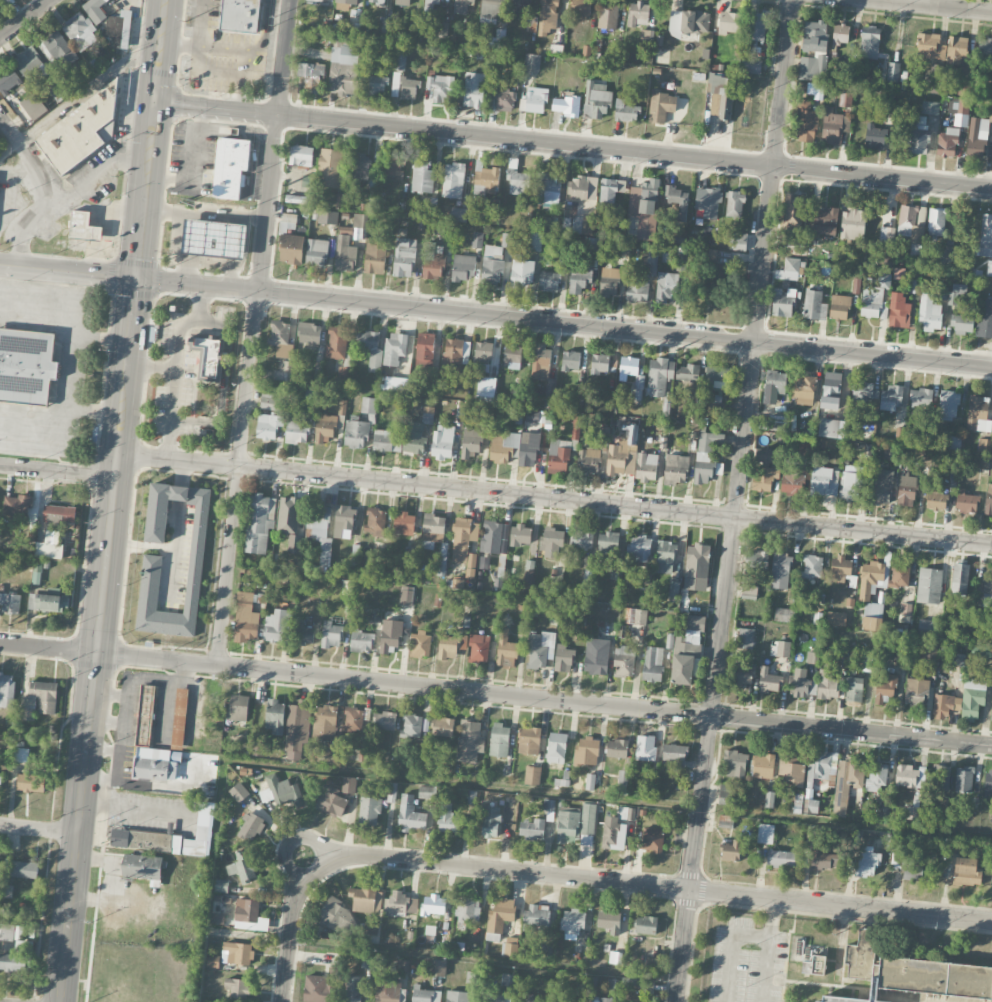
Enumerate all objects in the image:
building: (316, 0)
building: (347, 2)
building: (377, 2)
building: (402, 3)
building: (431, 5)
road: (935, 5)
building: (462, 6)
building: (520, 6)
building: (580, 7)
building: (95, 10)
building: (490, 10)
building: (638, 13)
building: (608, 14)
building: (241, 15)
building: (547, 17)
road: (24, 18)
building: (355, 21)
building: (688, 21)
building: (730, 22)
building: (531, 23)
building: (757, 25)
building: (119, 30)
building: (80, 31)
building: (841, 33)
building: (647, 35)
building: (815, 36)
building: (496, 40)
building: (870, 42)
building: (930, 46)
building: (985, 47)
building: (60, 49)
building: (956, 49)
building: (401, 60)
building: (532, 61)
building: (813, 65)
building: (751, 66)
building: (344, 70)
building: (311, 71)
building: (39, 73)
building: (893, 74)
building: (934, 79)
building: (8, 80)
building: (396, 82)
building: (377, 85)
building: (409, 88)
building: (440, 88)
building: (475, 89)
building: (816, 89)
building: (721, 98)
building: (504, 99)
building: (596, 99)
building: (534, 100)
traffic signals: (154, 103)
building: (565, 105)
building: (33, 106)
building: (661, 106)
building: (930, 107)
road: (62, 110)
building: (959, 110)
building: (626, 111)
building: (990, 112)
building: (806, 122)
building: (834, 126)
building: (81, 130)
building: (875, 136)
building: (976, 138)
road: (150, 139)
building: (919, 140)
building: (947, 142)
road: (572, 147)
building: (301, 156)
building: (361, 166)
building: (391, 166)
road: (195, 168)
building: (231, 168)
building: (330, 168)
road: (102, 172)
building: (422, 176)
building: (453, 180)
building: (486, 181)
building: (519, 183)
building: (549, 187)
building: (581, 188)
road: (55, 190)
building: (609, 193)
building: (645, 197)
building: (708, 201)
building: (678, 202)
building: (734, 204)
building: (794, 211)
road: (206, 213)
building: (459, 213)
building: (328, 217)
building: (825, 220)
building: (937, 220)
building: (360, 221)
building: (633, 222)
building: (853, 224)
building: (583, 225)
building: (912, 226)
building: (83, 227)
building: (887, 234)
road: (175, 239)
building: (215, 239)
building: (477, 239)
building: (506, 239)
building: (534, 240)
building: (737, 241)
building: (986, 242)
building: (592, 245)
building: (291, 249)
building: (317, 253)
building: (345, 254)
building: (948, 255)
building: (375, 256)
building: (404, 257)
building: (719, 260)
building: (433, 261)
road: (210, 262)
building: (492, 264)
building: (652, 264)
building: (463, 267)
building: (789, 269)
road: (68, 272)
building: (521, 273)
traffic signals: (137, 280)
building: (548, 281)
building: (579, 281)
building: (609, 281)
building: (912, 285)
building: (665, 287)
building: (636, 288)
building: (956, 292)
building: (941, 293)
building: (874, 296)
road: (49, 301)
building: (783, 302)
building: (815, 305)
building: (839, 306)
building: (899, 310)
building: (930, 312)
building: (985, 318)
building: (962, 323)
road: (564, 324)
building: (309, 333)
building: (281, 339)
road: (176, 342)
building: (337, 343)
building: (395, 349)
building: (371, 350)
building: (424, 351)
building: (512, 353)
building: (209, 355)
building: (482, 356)
building: (452, 357)
building: (540, 360)
building: (570, 360)
building: (599, 363)
building: (26, 365)
building: (628, 365)
road: (71, 370)
building: (283, 372)
building: (689, 372)
building: (660, 375)
building: (717, 376)
building: (776, 381)
building: (399, 384)
building: (639, 386)
building: (804, 390)
building: (831, 390)
building: (864, 391)
building: (312, 392)
building: (484, 393)
building: (549, 393)
building: (891, 396)
building: (921, 397)
road: (244, 398)
building: (270, 400)
building: (579, 401)
building: (368, 405)
building: (948, 405)
building: (978, 413)
road: (170, 414)
building: (428, 415)
building: (532, 415)
building: (268, 426)
building: (832, 428)
building: (325, 429)
building: (927, 429)
building: (297, 430)
building: (867, 430)
building: (356, 433)
building: (414, 439)
building: (386, 441)
building: (443, 442)
building: (470, 442)
building: (953, 442)
building: (984, 445)
building: (504, 447)
building: (528, 450)
building: (891, 453)
building: (558, 456)
building: (704, 457)
building: (588, 460)
building: (646, 466)
building: (676, 468)
building: (765, 469)
road: (57, 471)
building: (793, 481)
building: (824, 481)
building: (850, 485)
building: (881, 486)
building: (906, 490)
road: (554, 498)
building: (988, 499)
road: (736, 501)
building: (936, 501)
building: (966, 501)
building: (17, 507)
building: (288, 515)
building: (60, 516)
building: (345, 519)
building: (376, 522)
building: (260, 523)
building: (317, 524)
building: (404, 524)
building: (433, 529)
building: (520, 535)
building: (491, 536)
road: (177, 538)
building: (463, 538)
building: (581, 539)
building: (551, 541)
building: (607, 543)
building: (295, 544)
building: (50, 546)
building: (638, 548)
building: (665, 557)
building: (756, 560)
building: (471, 565)
building: (812, 566)
building: (696, 567)
building: (840, 568)
building: (780, 570)
building: (37, 572)
building: (615, 573)
building: (900, 575)
building: (528, 576)
building: (959, 578)
building: (149, 583)
building: (929, 585)
building: (347, 588)
building: (749, 591)
building: (984, 591)
building: (406, 595)
building: (49, 601)
building: (10, 603)
building: (784, 614)
building: (636, 616)
building: (872, 616)
building: (245, 618)
building: (278, 625)
building: (928, 626)
building: (303, 634)
building: (331, 635)
building: (390, 637)
building: (746, 637)
road: (99, 641)
building: (362, 641)
building: (421, 645)
building: (451, 645)
building: (479, 648)
building: (539, 648)
building: (506, 649)
building: (780, 649)
building: (686, 650)
building: (929, 650)
building: (596, 656)
building: (811, 657)
building: (563, 658)
building: (624, 661)
building: (653, 663)
building: (869, 664)
building: (744, 672)
building: (768, 680)
building: (801, 683)
building: (827, 684)
building: (885, 686)
building: (854, 689)
building: (6, 690)
building: (916, 692)
road: (110, 694)
road: (495, 695)
building: (41, 697)
building: (972, 697)
building: (945, 704)
building: (238, 708)
road: (124, 711)
building: (991, 715)
building: (146, 717)
building: (275, 717)
building: (179, 719)
building: (353, 720)
building: (384, 721)
building: (325, 722)
road: (106, 725)
building: (412, 726)
building: (442, 727)
building: (297, 729)
building: (499, 739)
building: (529, 740)
building: (470, 741)
building: (556, 747)
building: (617, 748)
building: (644, 749)
building: (259, 750)
building: (586, 750)
road: (104, 751)
building: (20, 755)
building: (674, 755)
building: (177, 757)
building: (322, 757)
building: (736, 763)
building: (763, 766)
building: (791, 768)
building: (0, 775)
building: (532, 775)
building: (877, 775)
building: (910, 776)
building: (941, 777)
building: (964, 779)
building: (623, 780)
building: (988, 780)
building: (590, 781)
building: (847, 782)
building: (33, 783)
building: (348, 785)
building: (725, 791)
building: (238, 792)
building: (281, 792)
building: (427, 792)
building: (391, 793)
building: (471, 797)
building: (769, 799)
building: (330, 801)
building: (549, 805)
building: (946, 809)
building: (369, 810)
building: (625, 812)
building: (912, 812)
road: (136, 813)
building: (410, 815)
building: (448, 819)
building: (489, 820)
building: (727, 821)
building: (587, 824)
building: (567, 825)
building: (251, 827)
building: (532, 828)
road: (39, 829)
building: (612, 833)
building: (765, 833)
building: (652, 839)
road: (292, 840)
building: (162, 841)
building: (955, 845)
building: (731, 850)
building: (780, 858)
building: (824, 858)
building: (868, 860)
building: (242, 866)
building: (912, 867)
building: (143, 868)
building: (24, 869)
building: (965, 872)
building: (221, 885)
road: (655, 886)
building: (6, 891)
building: (366, 899)
building: (400, 904)
building: (433, 905)
building: (468, 911)
building: (247, 913)
building: (537, 915)
building: (339, 918)
building: (499, 918)
building: (217, 919)
building: (609, 921)
building: (572, 923)
building: (646, 924)
road: (289, 930)
building: (7, 932)
building: (797, 945)
building: (511, 946)
road: (767, 950)
building: (237, 953)
building: (615, 957)
building: (213, 962)
building: (12, 963)
building: (813, 964)
building: (437, 968)
building: (913, 975)
building: (640, 984)
building: (579, 987)
building: (237, 989)
building: (318, 989)
building: (354, 989)
building: (389, 991)
building: (426, 995)
building: (459, 996)
building: (493, 997)
building: (527, 997)
building: (600, 999)
building: (562, 1000)
building: (818, 1001)

